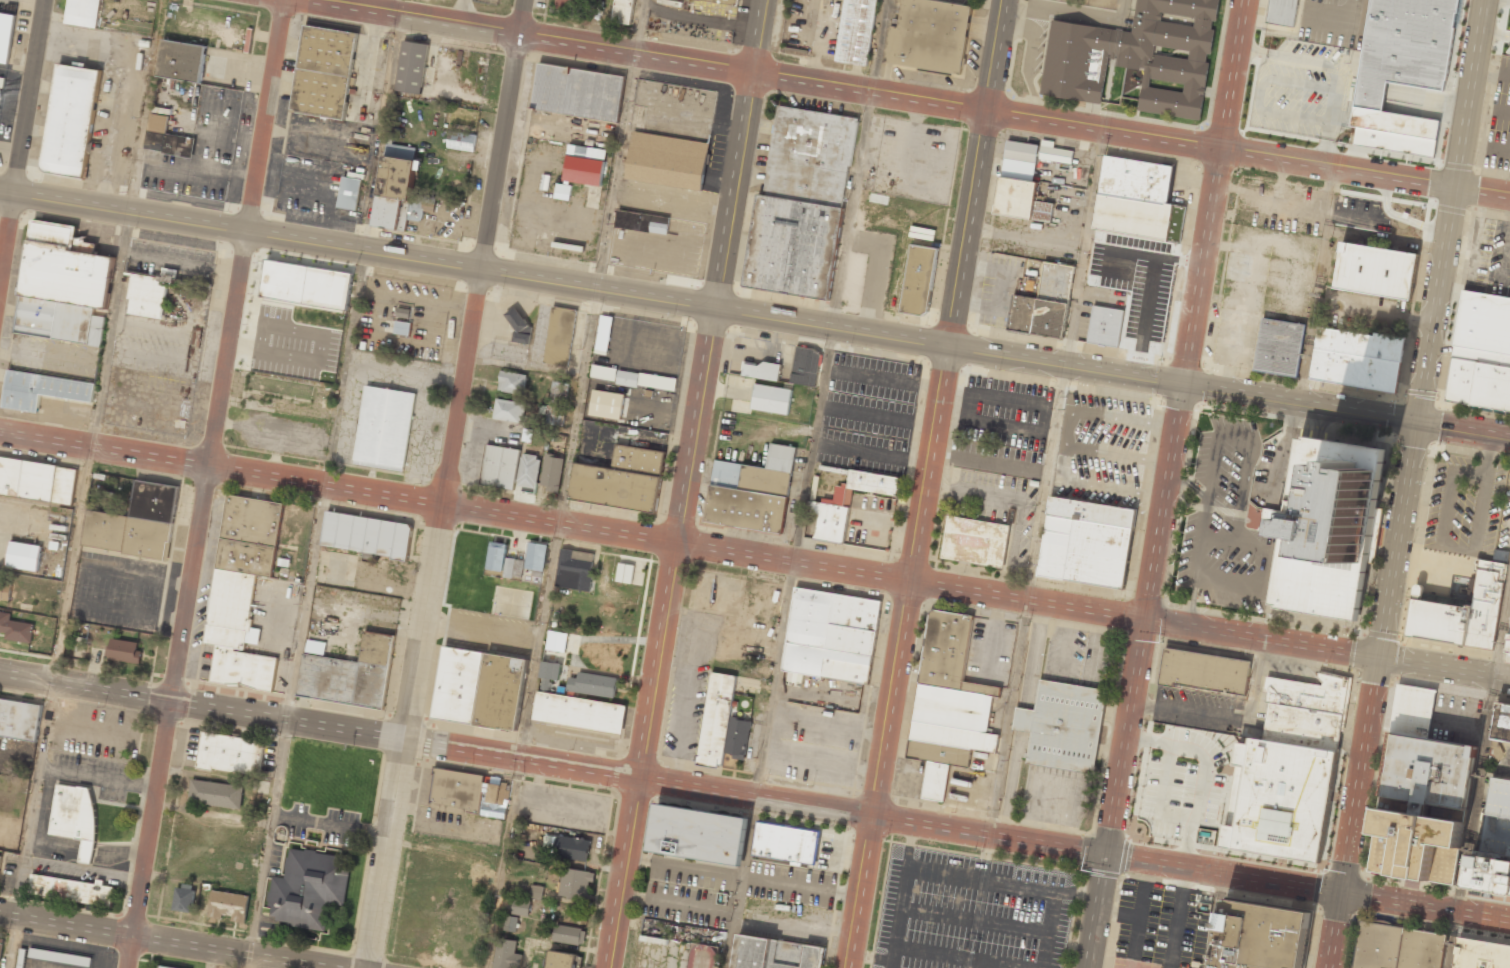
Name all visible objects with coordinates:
building: (726, 1)
building: (1282, 12)
building: (82, 13)
building: (856, 31)
building: (929, 35)
building: (6, 36)
building: (1138, 56)
building: (181, 61)
building: (411, 67)
building: (325, 72)
building: (578, 92)
road: (897, 98)
building: (70, 120)
parking lot: (1500, 121)
building: (1395, 134)
building: (166, 138)
building: (461, 141)
road: (24, 145)
building: (1054, 153)
building: (667, 161)
building: (584, 164)
building: (1135, 180)
building: (1020, 184)
building: (562, 191)
building: (394, 192)
building: (349, 193)
road: (1215, 193)
building: (800, 205)
road: (1450, 212)
building: (1138, 218)
building: (642, 222)
parking lot: (1489, 256)
building: (1374, 271)
building: (918, 280)
building: (63, 287)
road: (958, 290)
building: (305, 293)
building: (148, 295)
building: (1044, 304)
road: (709, 305)
building: (1484, 322)
building: (1104, 326)
building: (402, 328)
building: (603, 334)
building: (560, 336)
building: (1280, 347)
building: (1357, 359)
building: (805, 366)
building: (761, 370)
building: (603, 372)
building: (1480, 377)
building: (646, 380)
building: (512, 382)
traffic signals: (1184, 387)
building: (41, 390)
building: (771, 399)
building: (555, 404)
building: (607, 404)
building: (509, 410)
traffic signals: (1418, 426)
building: (384, 428)
road: (1464, 433)
building: (500, 466)
building: (528, 471)
building: (551, 471)
building: (621, 480)
building: (37, 481)
road: (206, 484)
road: (448, 484)
road: (687, 484)
building: (103, 490)
building: (752, 492)
road: (454, 504)
building: (845, 505)
parking lot: (1224, 520)
building: (135, 524)
building: (1327, 527)
building: (367, 536)
building: (975, 542)
building: (1085, 542)
building: (24, 556)
building: (497, 556)
building: (535, 556)
building: (574, 570)
building: (629, 574)
building: (243, 590)
building: (5, 591)
building: (1462, 613)
traffic signals: (1144, 619)
road: (1143, 620)
building: (15, 628)
road: (1209, 629)
building: (556, 641)
building: (830, 641)
building: (1508, 641)
building: (125, 650)
traffic signals: (1378, 658)
road: (1377, 659)
building: (1203, 673)
building: (349, 674)
building: (592, 685)
building: (481, 688)
building: (949, 705)
building: (580, 713)
building: (20, 719)
building: (1501, 721)
building: (721, 723)
building: (1063, 725)
building: (208, 750)
building: (224, 752)
building: (239, 754)
building: (254, 757)
building: (1427, 757)
parking lot: (1504, 764)
road: (552, 765)
building: (1288, 768)
road: (880, 774)
building: (468, 793)
building: (216, 794)
building: (75, 815)
building: (1498, 818)
parking garage: (1498, 818)
building: (698, 835)
building: (785, 844)
building: (1415, 846)
building: (568, 847)
traffic signals: (1106, 855)
building: (1, 859)
building: (1489, 871)
road: (1224, 874)
building: (575, 883)
building: (308, 889)
building: (71, 890)
building: (536, 891)
building: (183, 898)
building: (228, 905)
building: (521, 907)
road: (1426, 907)
road: (1096, 911)
building: (511, 923)
road: (1335, 931)
building: (569, 934)
building: (1259, 936)
road: (167, 939)
building: (1398, 947)
building: (1, 948)
building: (507, 954)
building: (776, 954)
building: (1482, 954)
building: (702, 956)
building: (60, 957)
building: (562, 960)
building: (164, 967)

